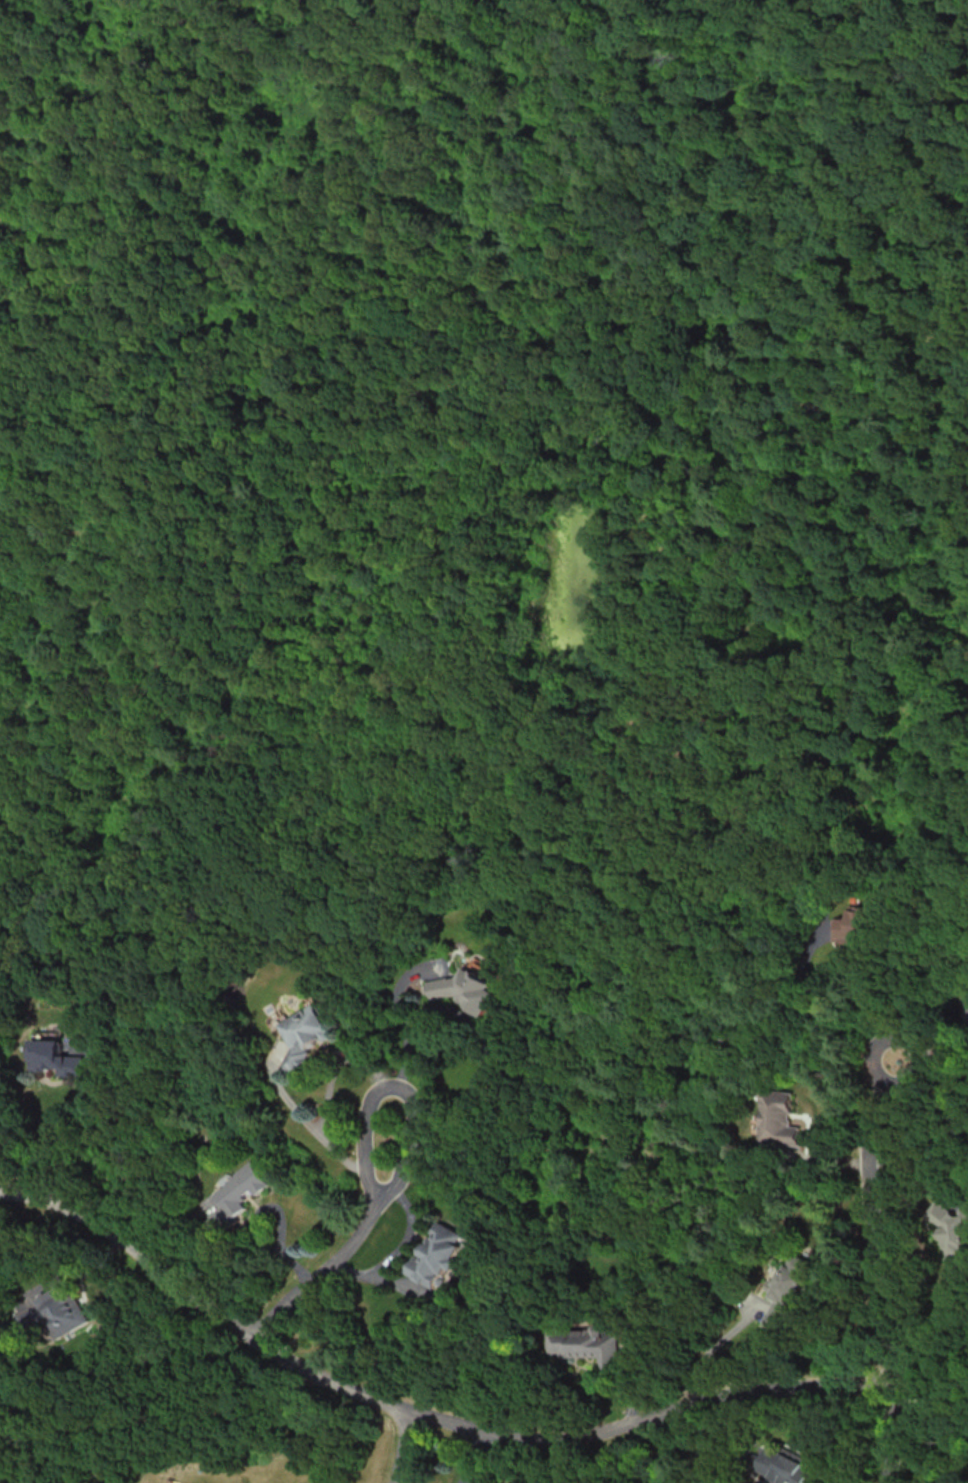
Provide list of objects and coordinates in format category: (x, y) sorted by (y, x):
building: (464, 989)
road: (815, 1013)
road: (405, 1030)
building: (304, 1033)
building: (55, 1058)
road: (348, 1059)
road: (485, 1065)
building: (777, 1119)
road: (312, 1128)
road: (63, 1145)
building: (236, 1196)
road: (276, 1212)
road: (408, 1231)
building: (948, 1232)
road: (343, 1239)
building: (436, 1255)
road: (875, 1264)
road: (372, 1276)
building: (784, 1294)
building: (54, 1312)
building: (581, 1343)
road: (710, 1347)
road: (930, 1395)
road: (418, 1414)
road: (398, 1447)
road: (689, 1451)
building: (782, 1467)

